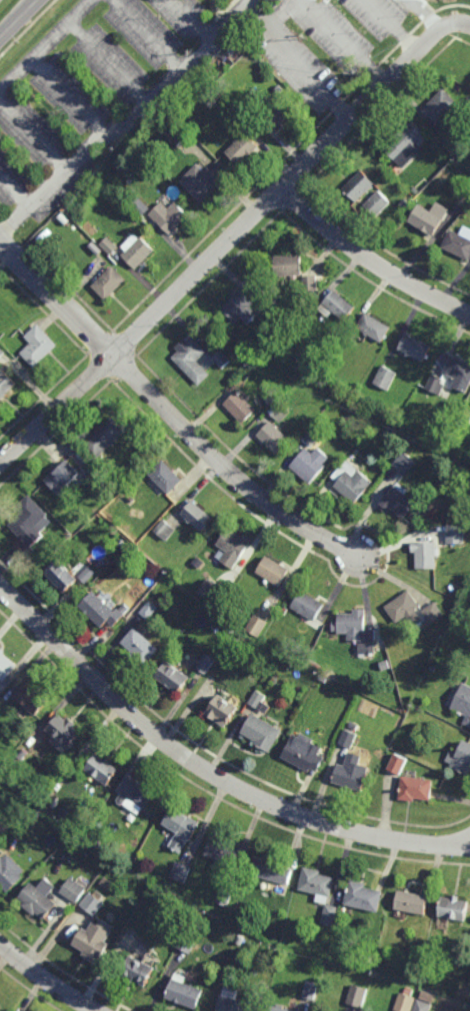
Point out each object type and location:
building: (274, 0)
road: (242, 9)
road: (426, 15)
road: (19, 19)
road: (192, 20)
road: (391, 26)
road: (463, 26)
road: (147, 36)
road: (342, 42)
road: (46, 44)
road: (108, 64)
road: (302, 72)
road: (70, 96)
building: (440, 106)
road: (145, 108)
building: (278, 113)
building: (177, 133)
road: (34, 134)
building: (454, 139)
building: (407, 144)
building: (242, 148)
building: (201, 182)
building: (359, 185)
building: (412, 197)
building: (463, 202)
building: (378, 203)
building: (405, 203)
building: (139, 205)
building: (169, 215)
building: (430, 218)
road: (14, 220)
building: (77, 229)
road: (227, 243)
building: (458, 244)
building: (108, 246)
building: (137, 251)
road: (370, 260)
building: (288, 265)
building: (108, 282)
building: (310, 283)
building: (275, 290)
building: (336, 306)
building: (240, 308)
building: (374, 327)
building: (37, 345)
building: (415, 348)
building: (1, 352)
building: (222, 358)
building: (192, 361)
building: (459, 373)
building: (385, 378)
building: (6, 384)
building: (436, 385)
building: (271, 398)
building: (240, 407)
road: (169, 412)
building: (280, 413)
building: (389, 431)
building: (273, 436)
building: (315, 437)
building: (103, 438)
building: (309, 463)
building: (404, 463)
building: (446, 475)
building: (165, 477)
building: (62, 478)
building: (95, 478)
building: (120, 479)
building: (351, 482)
building: (130, 498)
building: (398, 500)
building: (197, 516)
building: (28, 523)
building: (164, 529)
building: (456, 533)
building: (120, 542)
building: (232, 548)
building: (425, 550)
building: (445, 566)
building: (272, 570)
building: (87, 573)
building: (61, 575)
building: (213, 591)
building: (306, 604)
building: (404, 608)
building: (103, 609)
building: (149, 609)
building: (433, 612)
building: (254, 624)
building: (228, 632)
building: (357, 632)
building: (235, 639)
building: (141, 645)
building: (205, 663)
building: (5, 666)
building: (172, 675)
building: (323, 678)
building: (31, 698)
building: (258, 700)
building: (463, 702)
building: (222, 709)
building: (412, 709)
building: (354, 725)
building: (261, 730)
building: (63, 732)
building: (348, 738)
building: (304, 753)
building: (17, 757)
building: (460, 758)
building: (398, 763)
building: (102, 768)
road: (206, 772)
building: (352, 772)
building: (415, 787)
building: (137, 793)
building: (33, 814)
building: (4, 823)
building: (181, 827)
building: (96, 844)
building: (131, 845)
building: (226, 851)
building: (271, 869)
building: (9, 872)
building: (181, 872)
building: (110, 885)
building: (75, 888)
building: (320, 890)
building: (363, 896)
building: (224, 897)
building: (39, 898)
building: (93, 901)
building: (411, 902)
building: (453, 907)
building: (240, 919)
building: (199, 923)
building: (240, 940)
building: (93, 941)
building: (186, 942)
building: (137, 971)
road: (46, 980)
building: (311, 990)
building: (184, 992)
building: (357, 995)
building: (415, 1001)
building: (236, 1002)
building: (279, 1008)
building: (300, 1010)

